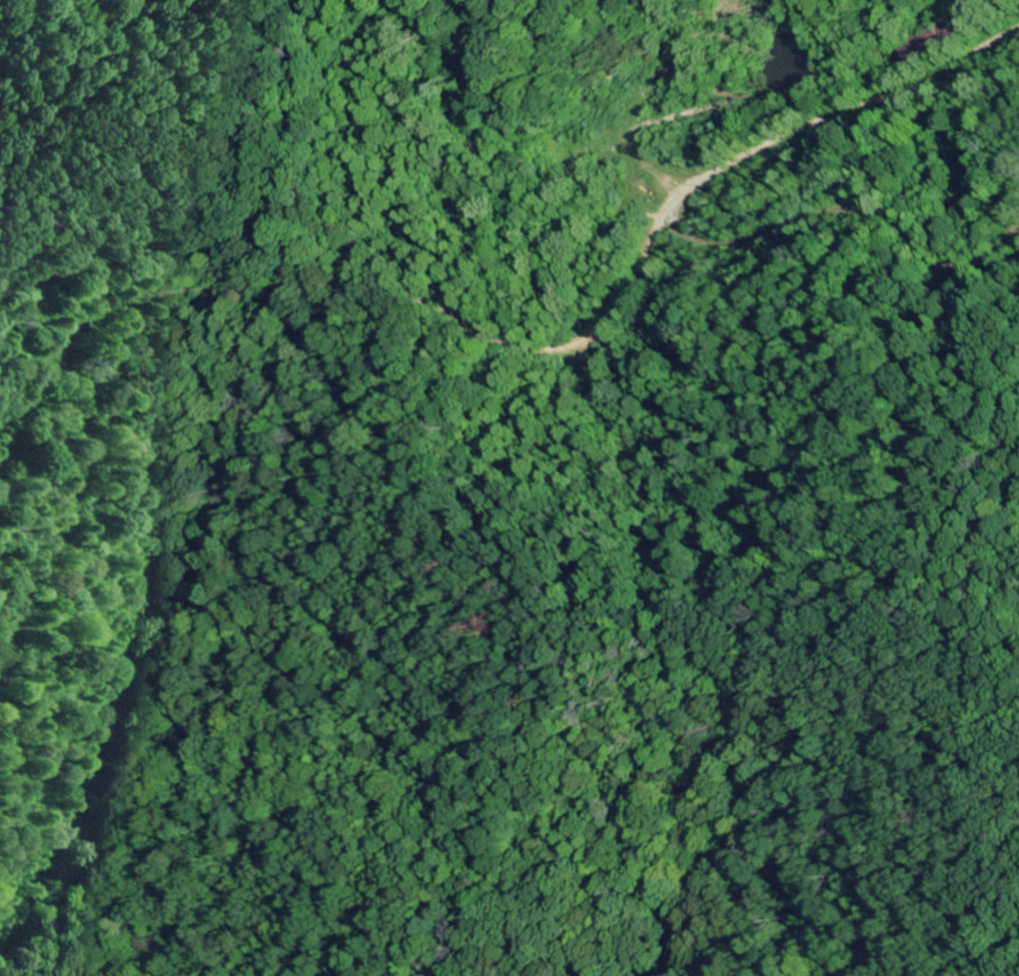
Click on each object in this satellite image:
road: (678, 217)

